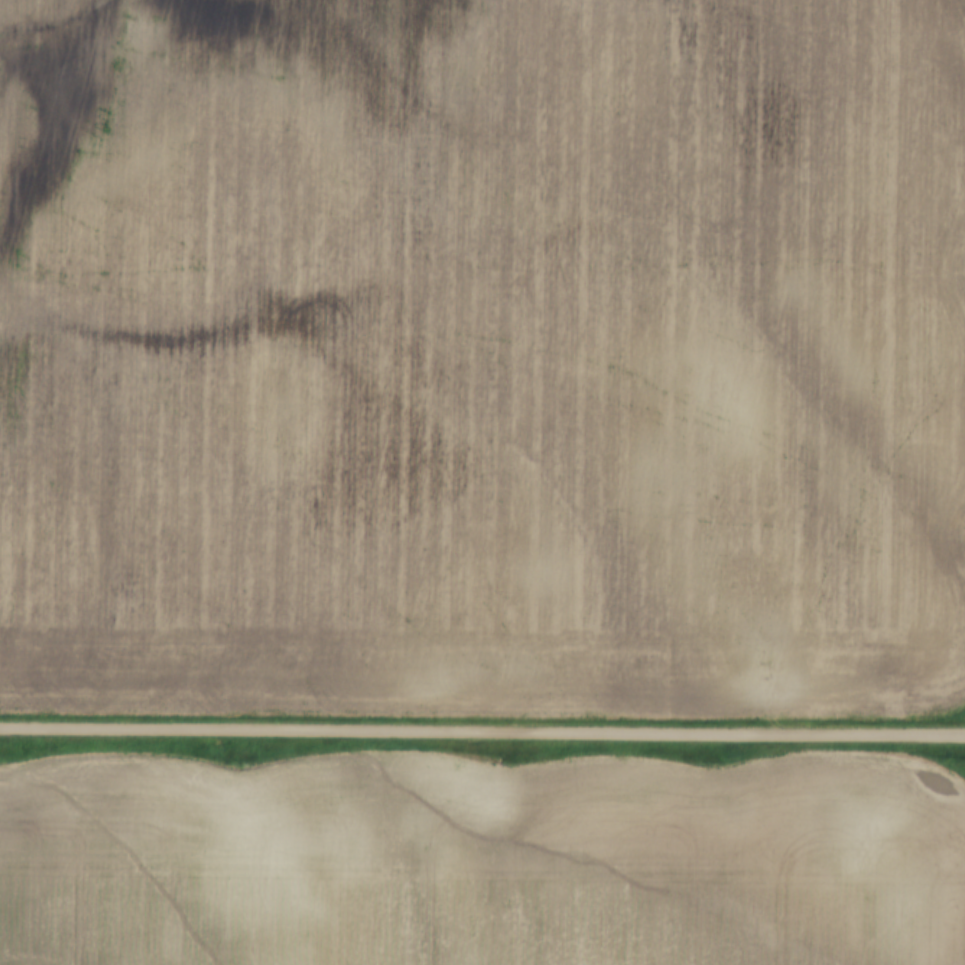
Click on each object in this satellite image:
road: (482, 733)

